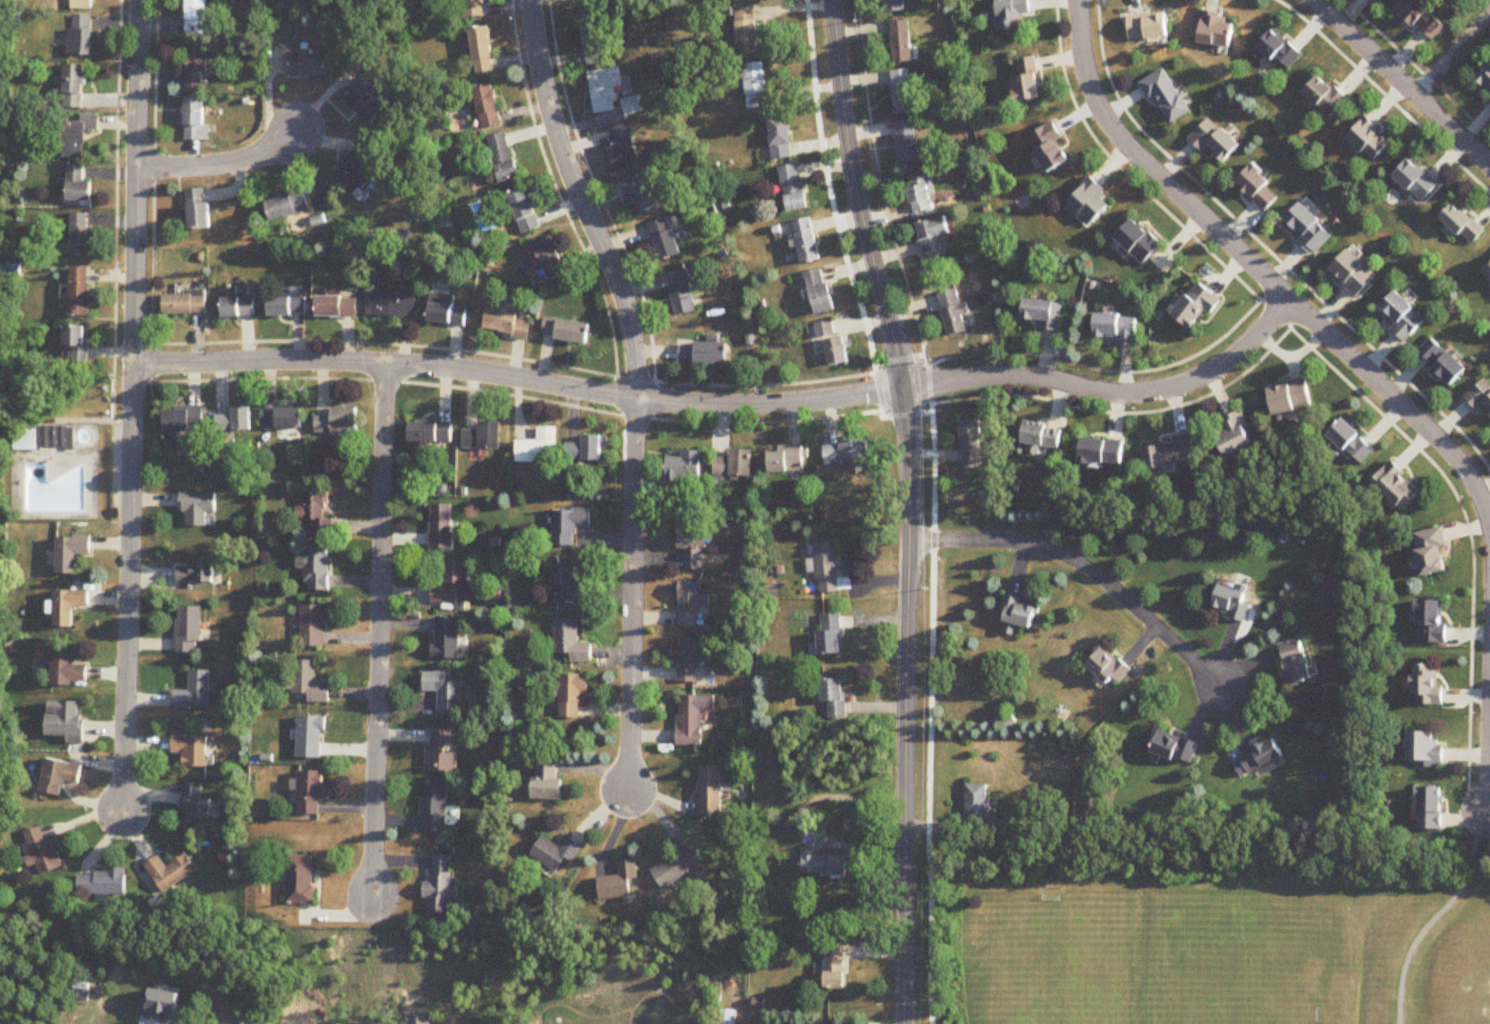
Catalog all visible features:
building: (617, 2)
building: (83, 5)
building: (896, 6)
building: (1012, 14)
building: (199, 16)
building: (1425, 18)
building: (1150, 28)
building: (1217, 30)
building: (749, 32)
building: (82, 35)
building: (596, 41)
building: (903, 42)
building: (483, 51)
building: (1278, 51)
road: (1451, 53)
building: (309, 64)
building: (200, 65)
building: (1483, 79)
building: (1029, 80)
road: (1401, 82)
building: (76, 86)
building: (756, 86)
building: (904, 92)
building: (614, 93)
building: (1168, 95)
building: (1328, 96)
building: (369, 103)
building: (490, 106)
building: (197, 119)
building: (79, 136)
building: (782, 138)
building: (1217, 140)
building: (1373, 140)
building: (909, 142)
building: (625, 145)
building: (1053, 148)
building: (504, 158)
road: (222, 163)
building: (353, 167)
building: (1418, 181)
building: (79, 185)
building: (1259, 187)
building: (795, 188)
building: (644, 194)
building: (923, 197)
road: (583, 200)
building: (1093, 201)
building: (291, 205)
road: (117, 209)
building: (201, 210)
building: (525, 211)
building: (1464, 225)
building: (1310, 229)
building: (83, 234)
building: (935, 235)
building: (666, 240)
building: (808, 241)
building: (1141, 242)
building: (552, 259)
road: (1260, 267)
building: (1487, 271)
building: (1355, 274)
building: (82, 292)
building: (821, 292)
building: (682, 293)
building: (185, 304)
building: (237, 305)
building: (389, 305)
building: (287, 306)
building: (338, 307)
building: (1199, 308)
building: (446, 311)
building: (955, 313)
building: (1044, 315)
building: (1404, 317)
building: (507, 321)
building: (1119, 328)
building: (826, 330)
building: (567, 331)
building: (80, 344)
road: (409, 346)
building: (838, 352)
building: (703, 353)
building: (1444, 362)
road: (756, 386)
building: (1482, 396)
building: (1292, 399)
road: (730, 405)
road: (133, 408)
building: (283, 418)
building: (236, 420)
building: (179, 421)
building: (339, 422)
building: (431, 432)
building: (1236, 436)
building: (484, 437)
building: (1043, 437)
building: (44, 439)
building: (1353, 442)
building: (972, 443)
building: (539, 448)
building: (586, 450)
building: (1105, 452)
building: (848, 453)
building: (1173, 453)
building: (787, 460)
building: (736, 464)
building: (683, 471)
building: (1400, 487)
road: (908, 508)
building: (199, 509)
building: (317, 513)
building: (570, 526)
building: (442, 527)
building: (694, 548)
building: (72, 553)
building: (1434, 553)
road: (1085, 566)
building: (317, 568)
building: (829, 569)
building: (197, 572)
building: (570, 584)
building: (454, 586)
road: (633, 597)
building: (1236, 602)
building: (690, 606)
building: (70, 607)
building: (1015, 608)
building: (1435, 623)
building: (314, 626)
building: (188, 630)
road: (380, 634)
building: (832, 635)
building: (445, 639)
building: (571, 643)
building: (691, 660)
building: (1301, 660)
building: (1109, 666)
building: (69, 670)
building: (308, 683)
building: (1431, 687)
building: (194, 694)
building: (444, 694)
building: (572, 695)
building: (836, 701)
building: (692, 718)
building: (70, 724)
building: (312, 738)
building: (1176, 746)
building: (193, 750)
building: (1429, 750)
building: (441, 753)
building: (1258, 756)
building: (61, 777)
building: (549, 781)
building: (710, 793)
building: (313, 794)
road: (1489, 796)
building: (197, 806)
building: (435, 809)
building: (1433, 809)
building: (979, 810)
road: (798, 818)
building: (43, 853)
building: (558, 853)
building: (826, 865)
building: (678, 867)
building: (173, 873)
building: (304, 881)
building: (619, 883)
building: (104, 885)
building: (442, 887)
road: (1436, 917)
park: (1142, 953)
building: (837, 967)

